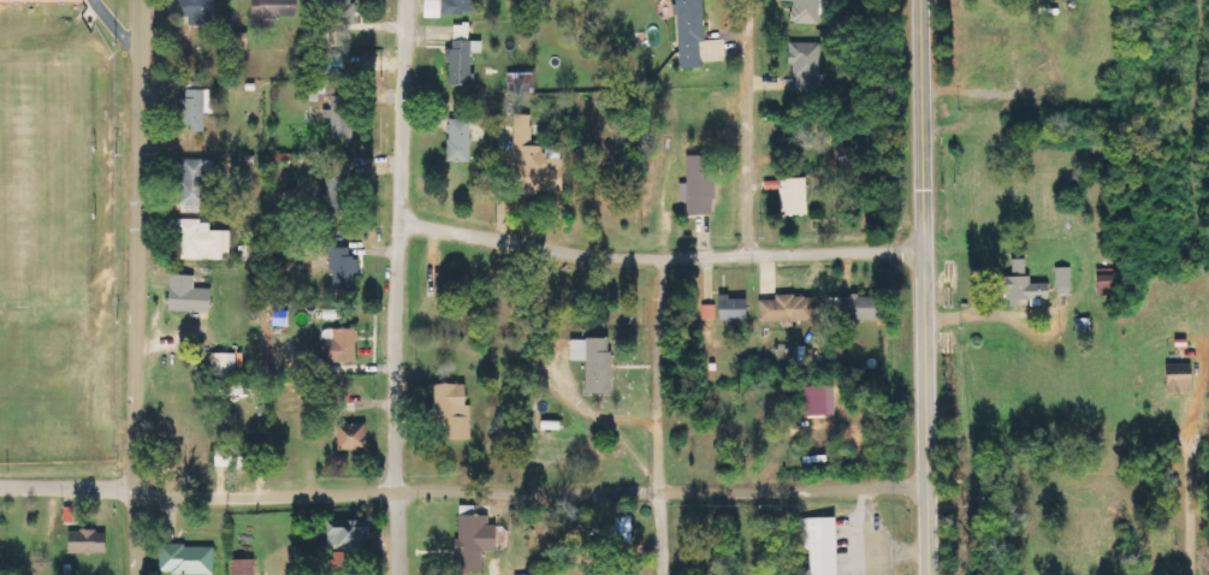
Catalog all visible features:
building: (28, 0)
building: (460, 7)
building: (201, 11)
building: (274, 11)
building: (806, 11)
building: (340, 12)
road: (114, 28)
building: (692, 32)
building: (464, 61)
building: (333, 65)
building: (807, 67)
building: (522, 83)
building: (318, 93)
building: (197, 108)
building: (343, 118)
building: (461, 141)
building: (531, 154)
road: (747, 160)
building: (198, 183)
building: (340, 184)
building: (703, 185)
building: (795, 197)
building: (203, 241)
road: (654, 255)
building: (345, 269)
building: (1060, 280)
building: (1103, 284)
building: (444, 285)
building: (1018, 285)
road: (391, 286)
road: (919, 286)
road: (134, 287)
building: (190, 296)
building: (854, 307)
building: (734, 308)
building: (789, 309)
building: (709, 312)
building: (343, 345)
building: (294, 360)
building: (597, 362)
building: (225, 364)
building: (1183, 378)
building: (819, 399)
building: (455, 409)
road: (652, 415)
building: (354, 438)
building: (236, 457)
road: (65, 488)
road: (525, 493)
road: (1189, 518)
building: (516, 520)
building: (621, 528)
building: (351, 535)
building: (476, 540)
building: (89, 541)
building: (822, 544)
building: (188, 559)
building: (244, 567)
building: (603, 574)

